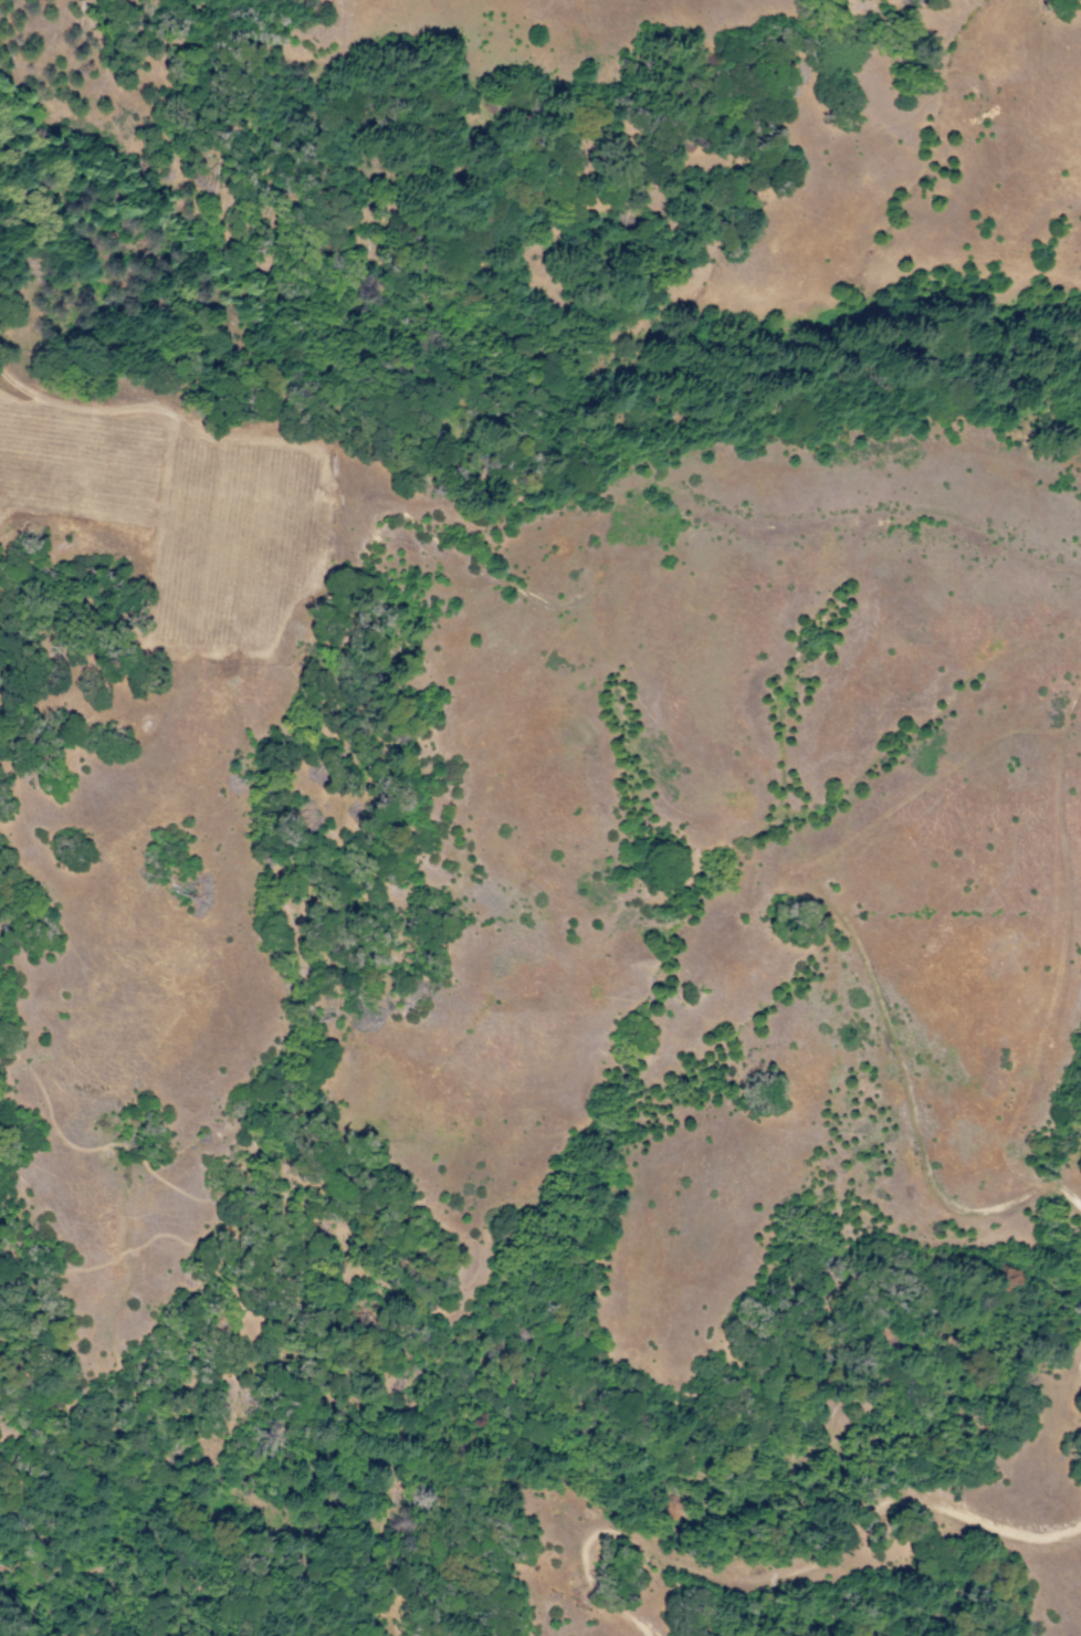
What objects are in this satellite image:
road: (542, 599)

